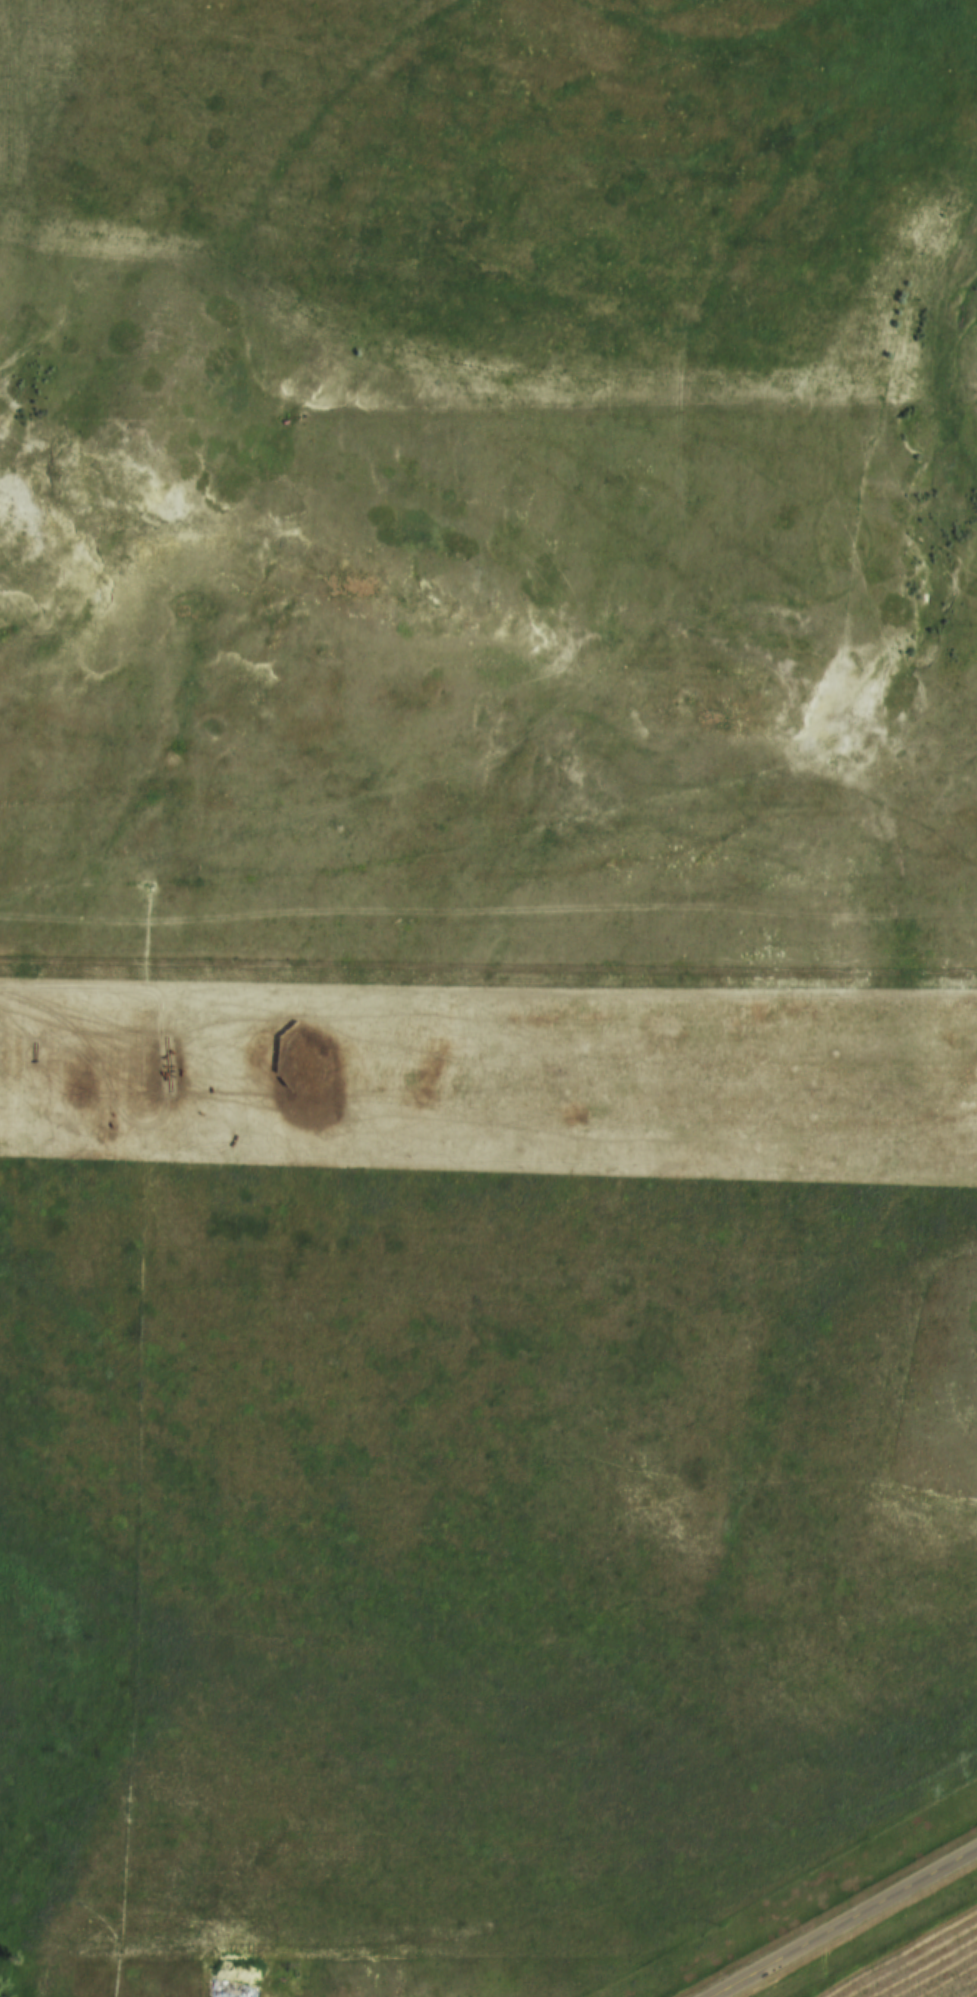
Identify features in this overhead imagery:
road: (844, 1922)

